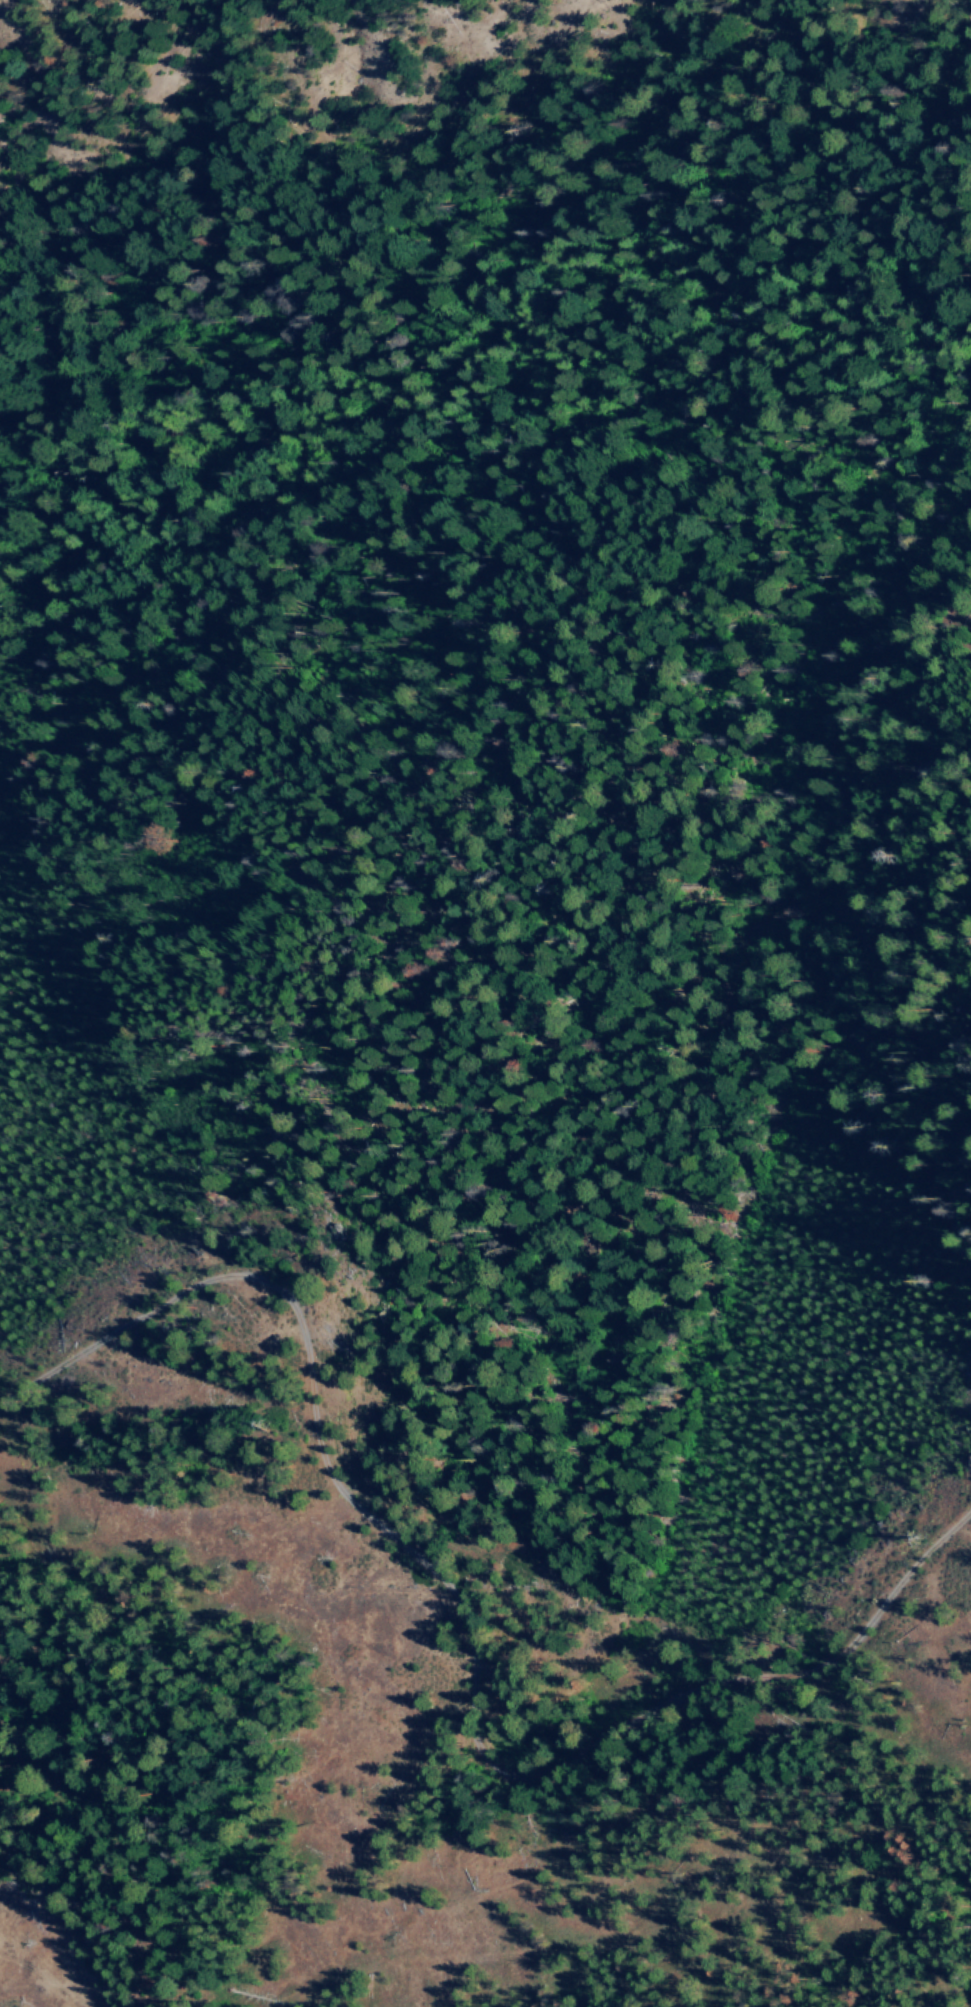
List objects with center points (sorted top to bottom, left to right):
road: (457, 1640)

